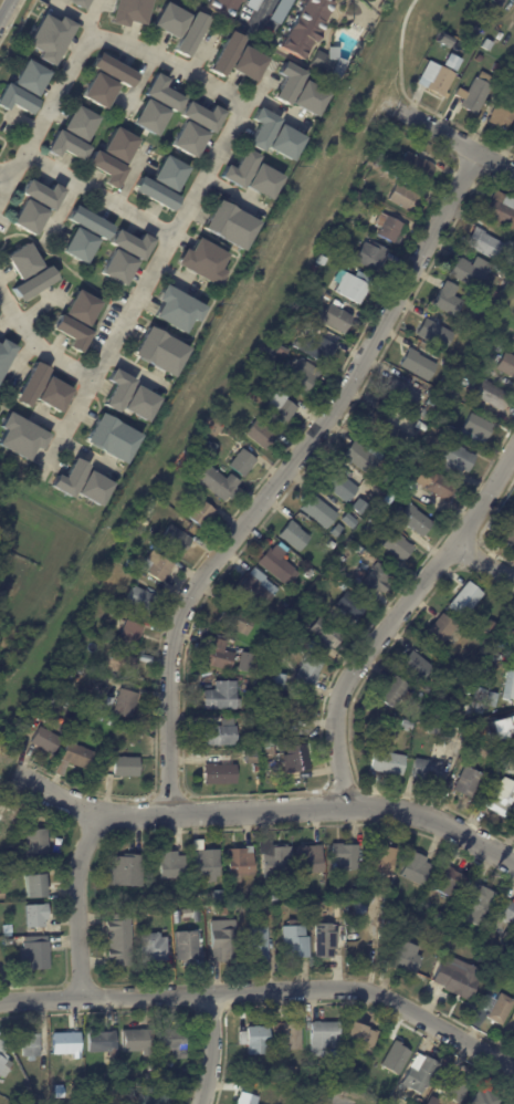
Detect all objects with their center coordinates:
building: (76, 3)
building: (251, 3)
building: (500, 3)
building: (220, 7)
road: (6, 10)
building: (279, 10)
building: (127, 11)
road: (264, 11)
building: (168, 20)
building: (303, 27)
building: (188, 34)
building: (49, 37)
building: (469, 37)
building: (478, 39)
building: (448, 41)
building: (487, 44)
building: (458, 45)
building: (223, 53)
road: (398, 53)
building: (480, 58)
building: (318, 62)
building: (245, 63)
building: (497, 67)
building: (111, 70)
building: (29, 77)
building: (437, 79)
building: (286, 82)
building: (98, 90)
building: (160, 92)
building: (478, 92)
building: (14, 98)
building: (307, 98)
building: (504, 113)
building: (201, 115)
building: (148, 117)
building: (78, 123)
road: (237, 124)
building: (273, 135)
road: (448, 135)
building: (187, 139)
building: (117, 144)
building: (64, 146)
building: (380, 150)
building: (105, 168)
building: (417, 168)
building: (167, 174)
building: (251, 175)
road: (2, 187)
building: (41, 194)
building: (154, 194)
building: (356, 195)
road: (96, 197)
building: (405, 197)
building: (502, 209)
building: (28, 217)
building: (87, 222)
building: (228, 226)
building: (389, 228)
building: (129, 243)
building: (486, 243)
building: (77, 246)
building: (373, 256)
building: (323, 260)
building: (21, 261)
building: (201, 261)
building: (116, 267)
building: (314, 269)
building: (472, 271)
building: (32, 283)
building: (352, 285)
building: (321, 291)
building: (495, 296)
building: (450, 300)
building: (81, 308)
building: (174, 309)
building: (335, 317)
building: (298, 322)
building: (70, 332)
building: (437, 334)
building: (512, 336)
building: (470, 337)
building: (273, 345)
road: (38, 346)
building: (500, 348)
building: (284, 350)
building: (319, 350)
building: (158, 352)
building: (4, 353)
building: (419, 365)
building: (507, 365)
building: (305, 376)
building: (448, 383)
building: (41, 389)
building: (402, 394)
building: (494, 395)
building: (127, 396)
building: (260, 400)
building: (281, 405)
building: (429, 408)
building: (422, 427)
building: (452, 430)
building: (478, 431)
building: (230, 434)
building: (19, 436)
building: (263, 436)
building: (390, 436)
building: (109, 437)
building: (196, 448)
building: (212, 448)
building: (427, 450)
building: (365, 457)
building: (457, 459)
building: (242, 461)
building: (399, 461)
road: (284, 473)
building: (80, 482)
building: (217, 482)
building: (342, 482)
building: (438, 485)
building: (379, 493)
building: (400, 510)
building: (321, 511)
building: (203, 514)
building: (416, 520)
building: (508, 532)
building: (295, 537)
building: (177, 540)
building: (333, 544)
building: (399, 546)
road: (485, 563)
building: (277, 564)
building: (157, 566)
building: (310, 574)
building: (377, 582)
building: (450, 584)
building: (258, 589)
building: (139, 598)
building: (466, 602)
building: (349, 604)
building: (282, 616)
road: (395, 619)
building: (237, 621)
building: (510, 624)
building: (493, 626)
building: (442, 632)
building: (133, 633)
building: (328, 636)
building: (266, 639)
building: (279, 649)
building: (220, 656)
building: (146, 658)
building: (120, 664)
building: (248, 664)
building: (417, 667)
building: (486, 668)
building: (310, 671)
building: (66, 673)
building: (52, 683)
building: (511, 687)
building: (96, 688)
building: (395, 691)
building: (222, 697)
building: (50, 699)
building: (482, 700)
building: (493, 700)
building: (93, 701)
building: (255, 701)
building: (126, 704)
building: (287, 707)
building: (468, 709)
building: (92, 712)
building: (441, 714)
building: (102, 718)
building: (113, 722)
building: (407, 725)
building: (433, 728)
building: (126, 730)
building: (221, 733)
building: (45, 741)
building: (269, 748)
building: (483, 751)
building: (251, 757)
building: (75, 758)
building: (300, 759)
building: (388, 764)
building: (126, 767)
building: (510, 767)
building: (221, 770)
building: (256, 770)
building: (428, 771)
building: (469, 783)
building: (502, 799)
road: (268, 810)
building: (7, 824)
building: (20, 834)
building: (38, 845)
building: (346, 857)
building: (276, 860)
building: (311, 861)
building: (207, 863)
building: (242, 863)
building: (382, 863)
building: (174, 867)
building: (417, 869)
building: (128, 872)
building: (450, 884)
building: (36, 887)
building: (1, 895)
building: (366, 896)
building: (254, 897)
building: (275, 899)
road: (80, 902)
building: (480, 904)
building: (176, 905)
building: (315, 907)
building: (304, 909)
building: (363, 909)
building: (424, 909)
building: (187, 914)
building: (36, 916)
building: (441, 919)
building: (504, 919)
building: (401, 921)
building: (178, 923)
building: (123, 938)
building: (485, 938)
building: (297, 941)
building: (326, 941)
building: (228, 942)
building: (260, 945)
building: (190, 948)
building: (155, 950)
building: (36, 955)
building: (410, 964)
building: (460, 979)
road: (266, 990)
building: (502, 1010)
building: (513, 1030)
building: (290, 1035)
building: (324, 1039)
building: (172, 1040)
building: (363, 1040)
building: (138, 1042)
building: (260, 1042)
building: (103, 1043)
building: (67, 1044)
building: (32, 1048)
road: (210, 1049)
building: (397, 1055)
building: (279, 1059)
building: (4, 1061)
building: (321, 1076)
building: (420, 1077)
building: (153, 1079)
building: (22, 1081)
building: (266, 1085)
building: (103, 1087)
building: (458, 1091)
building: (61, 1092)
building: (487, 1098)
building: (157, 1100)
building: (248, 1100)
building: (93, 1101)
building: (44, 1102)
road: (339, 1102)
building: (419, 1102)
building: (433, 1102)

